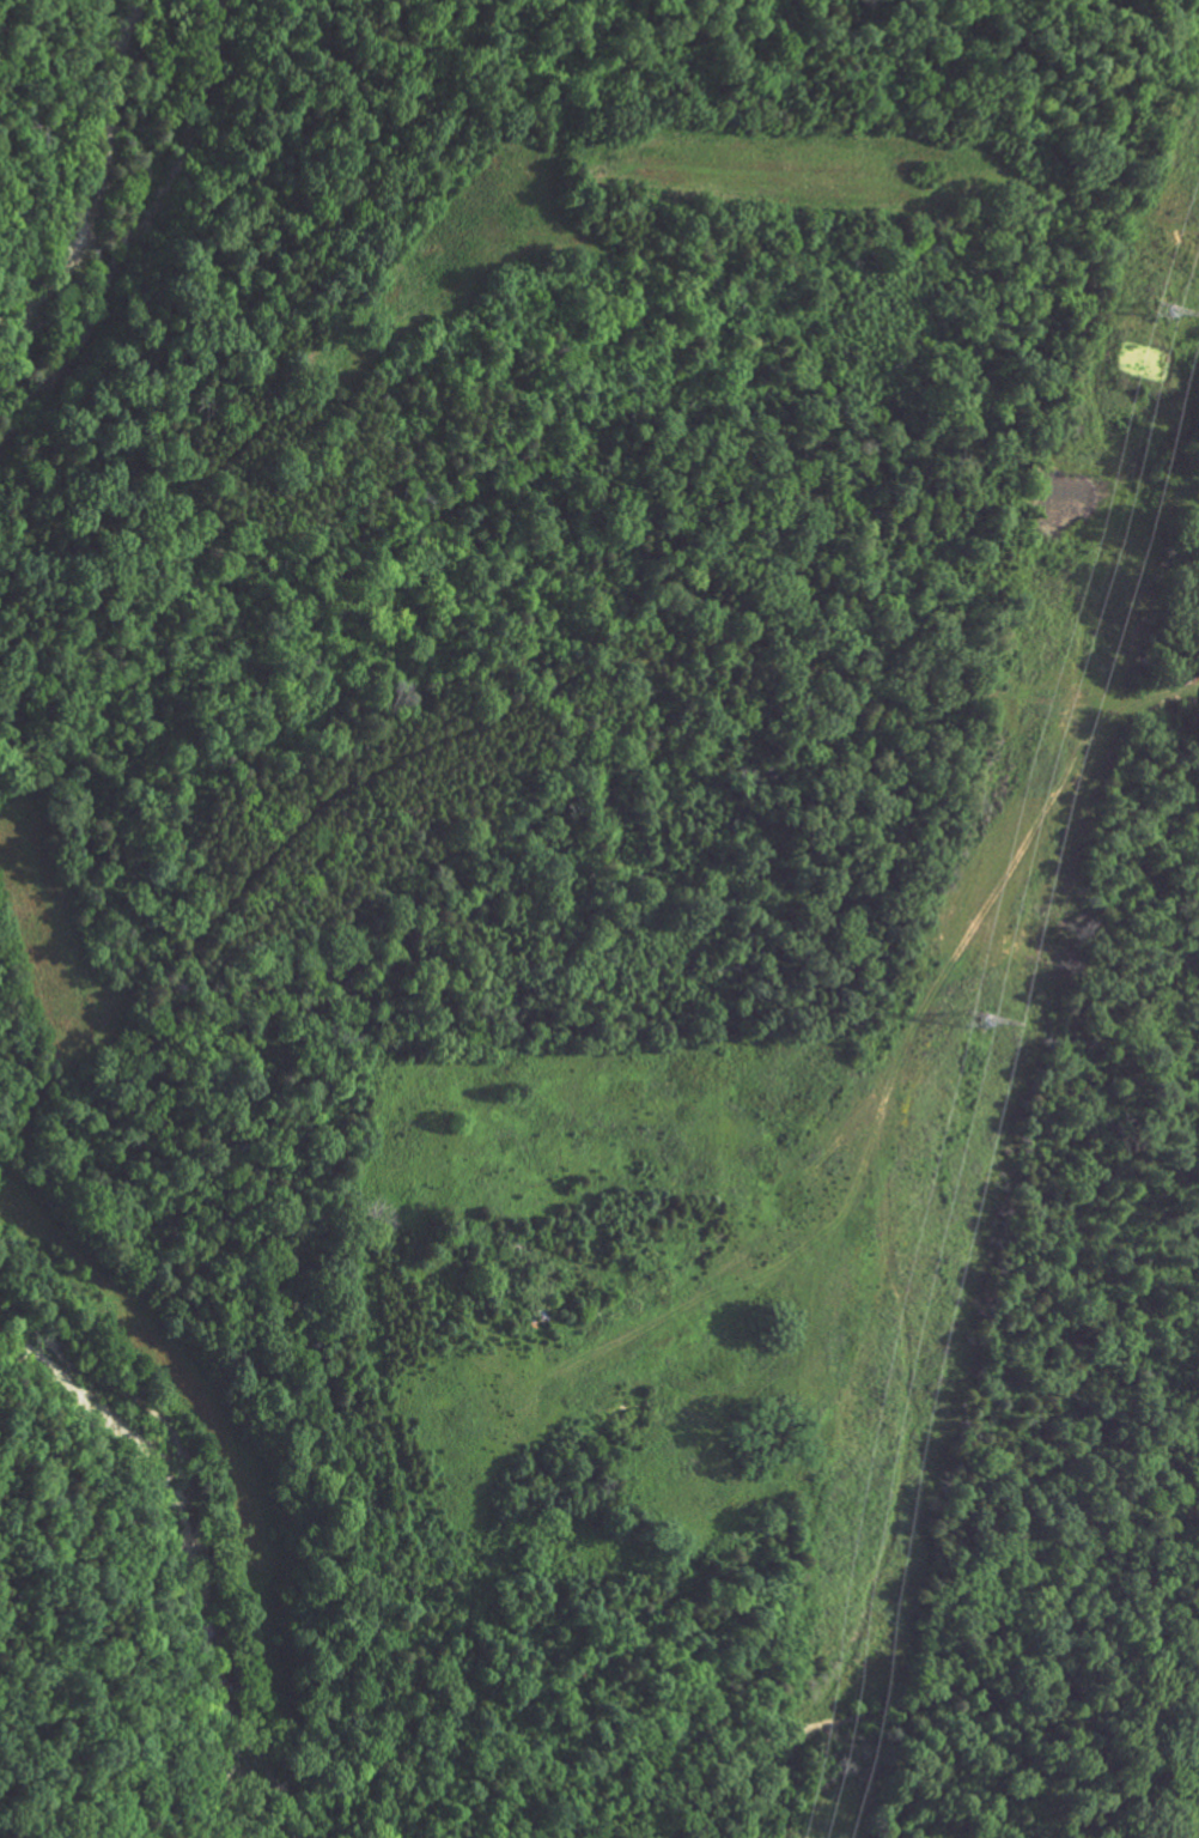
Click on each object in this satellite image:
power tower: (1177, 313)
power tower: (973, 1017)

